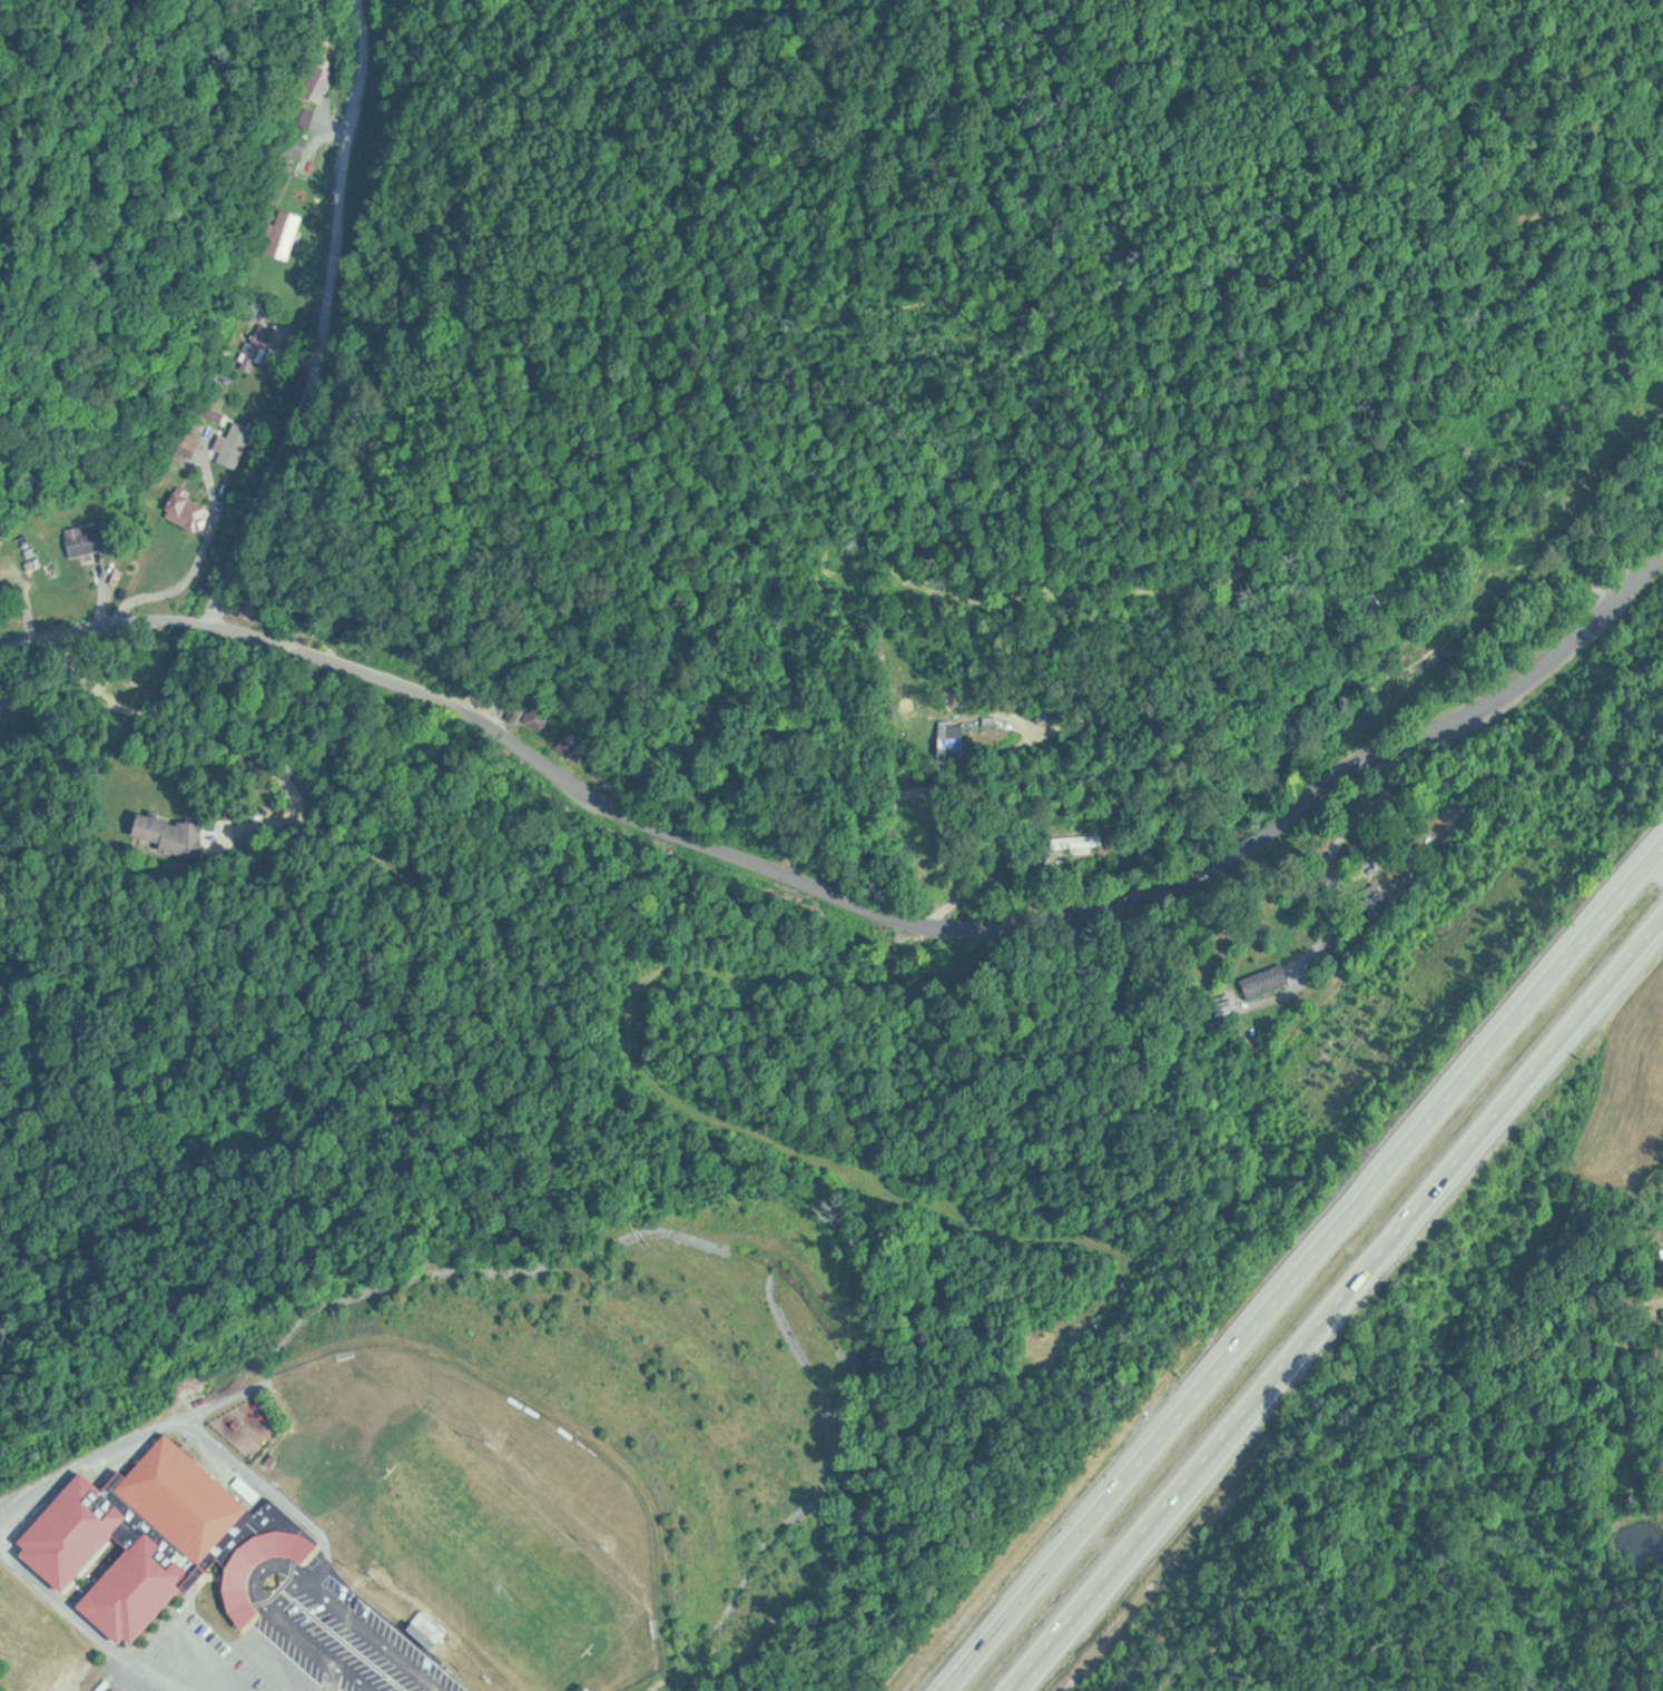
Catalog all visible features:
building: (317, 88)
building: (288, 234)
road: (323, 321)
building: (200, 417)
building: (245, 441)
road: (968, 459)
building: (189, 509)
building: (78, 543)
road: (1497, 562)
road: (173, 594)
road: (177, 620)
road: (81, 629)
road: (67, 641)
road: (81, 658)
building: (541, 716)
road: (234, 736)
building: (579, 738)
building: (955, 738)
road: (1397, 753)
road: (1390, 778)
road: (769, 832)
building: (168, 834)
road: (1338, 868)
road: (1656, 868)
road: (945, 925)
building: (1267, 981)
road: (1523, 1079)
road: (1303, 1269)
road: (1199, 1467)
building: (160, 1540)
parking lot: (341, 1632)
road: (364, 1634)
road: (317, 1649)
road: (355, 1667)

